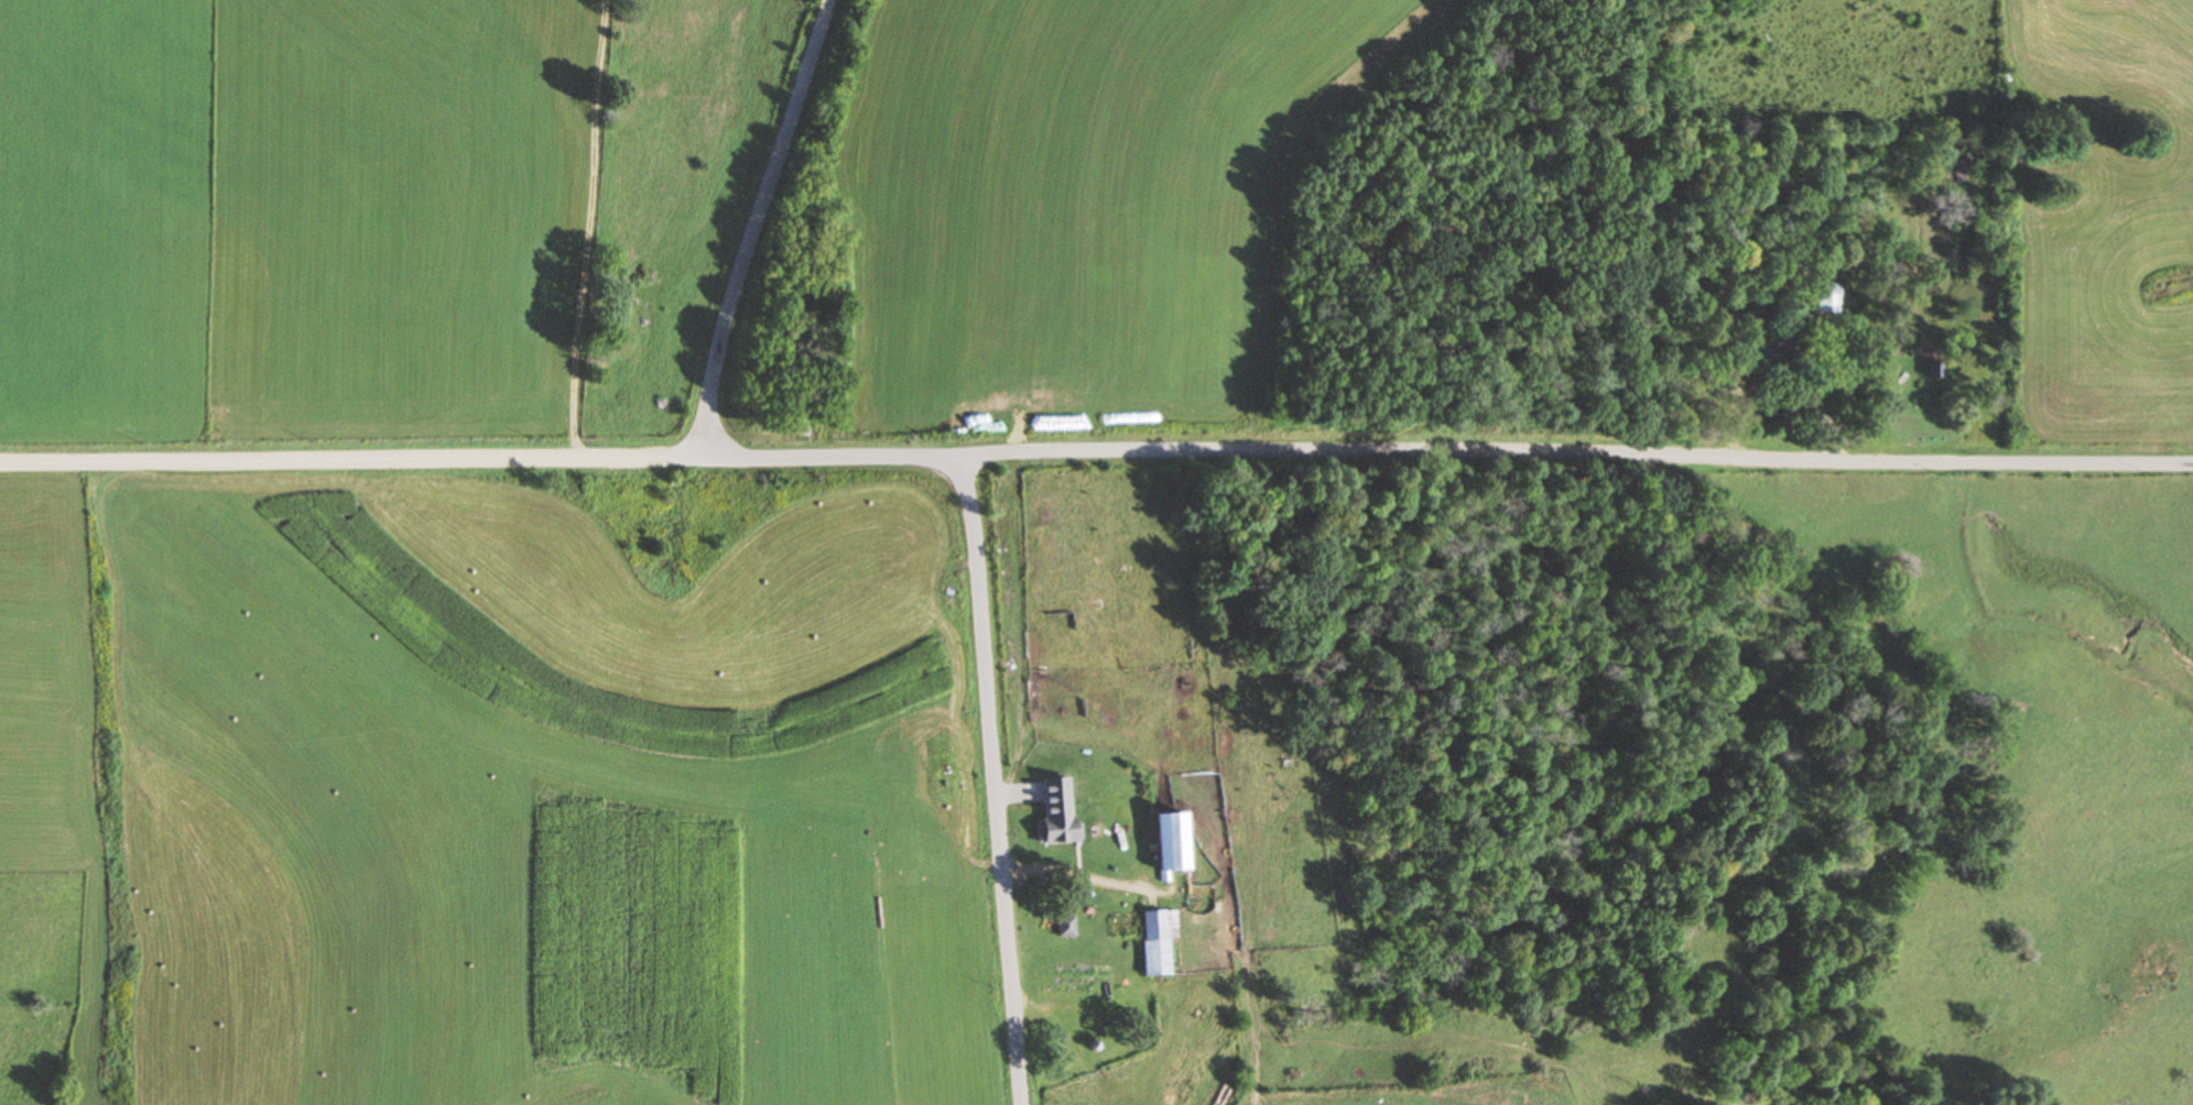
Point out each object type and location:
road: (754, 227)
building: (1827, 298)
building: (805, 429)
road: (1096, 449)
road: (992, 779)
building: (1052, 810)
building: (1162, 844)
building: (1061, 927)
building: (1142, 937)

